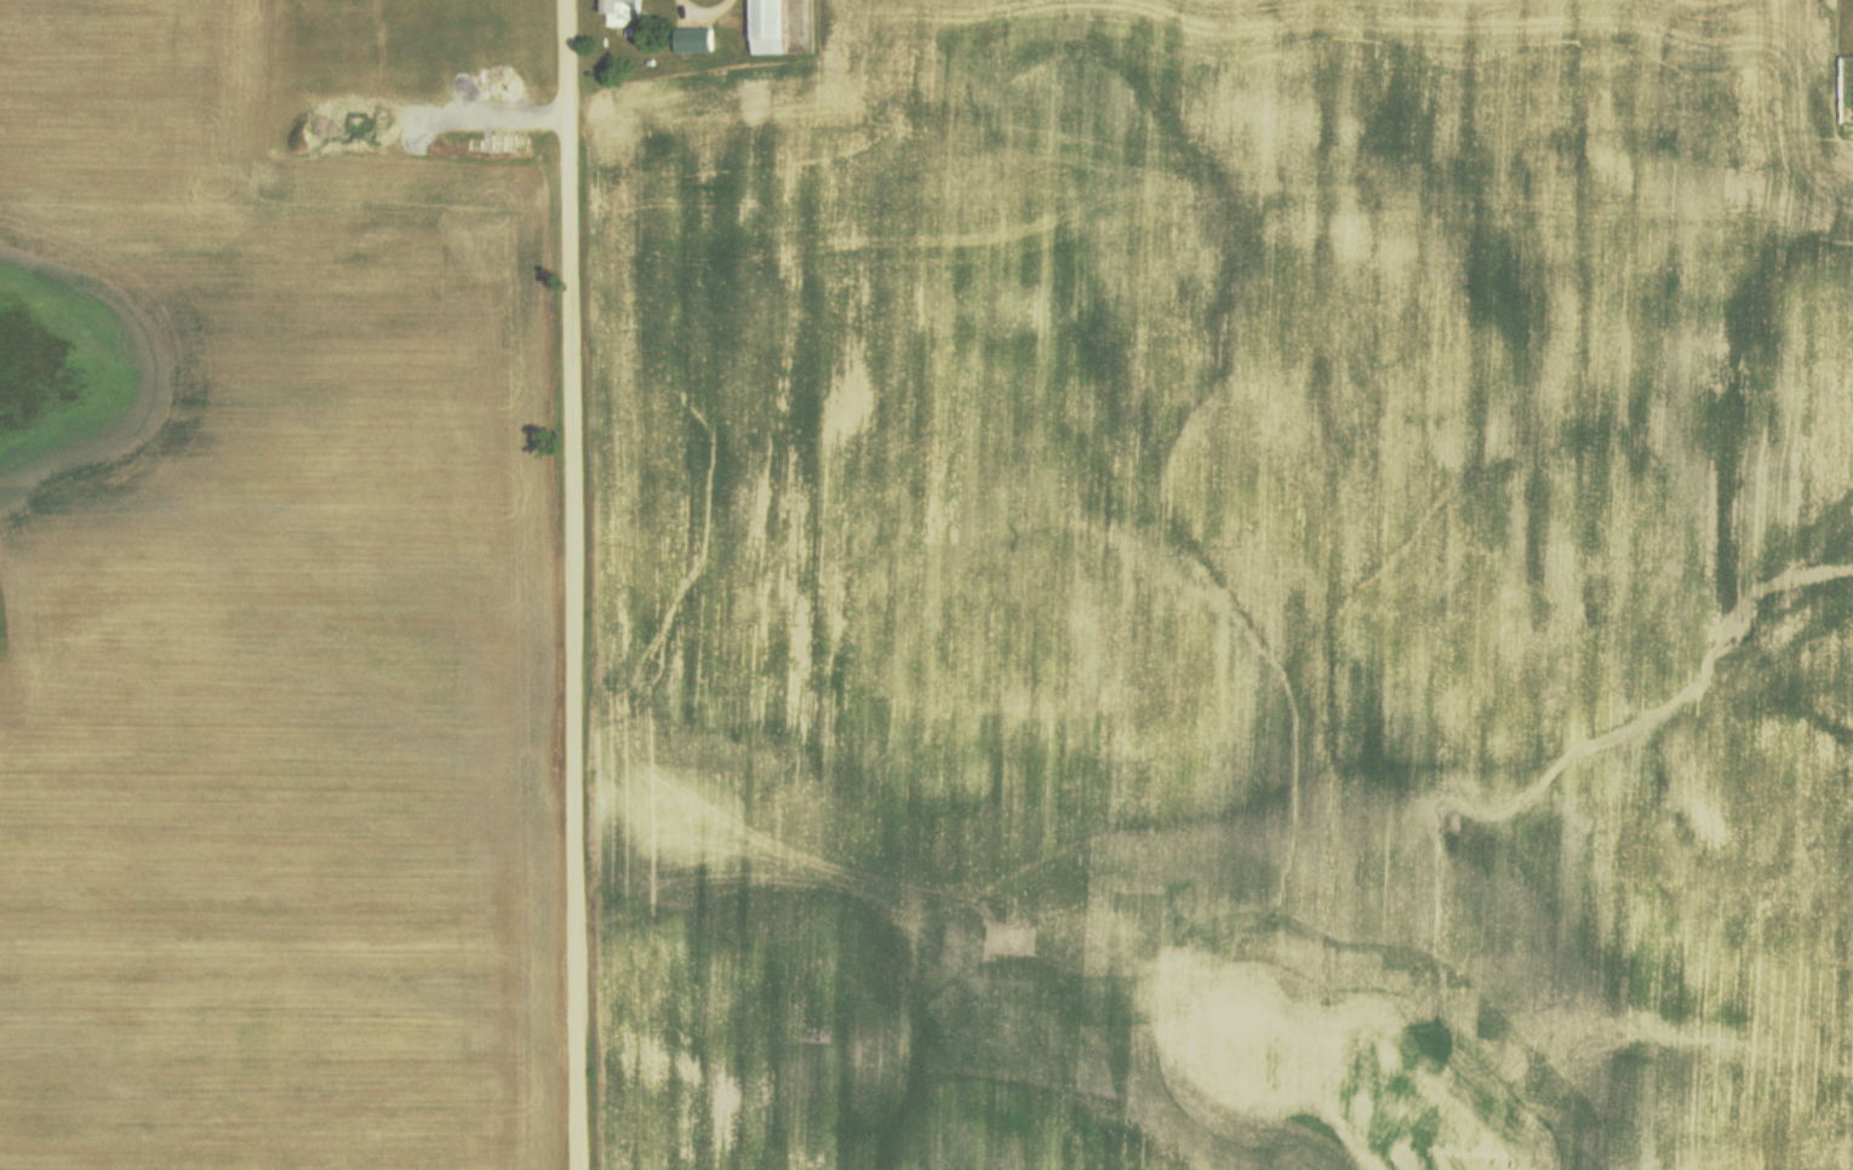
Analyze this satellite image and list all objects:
building: (623, 12)
building: (771, 28)
building: (694, 41)
road: (576, 585)
crop: (1235, 591)
crop: (263, 631)

